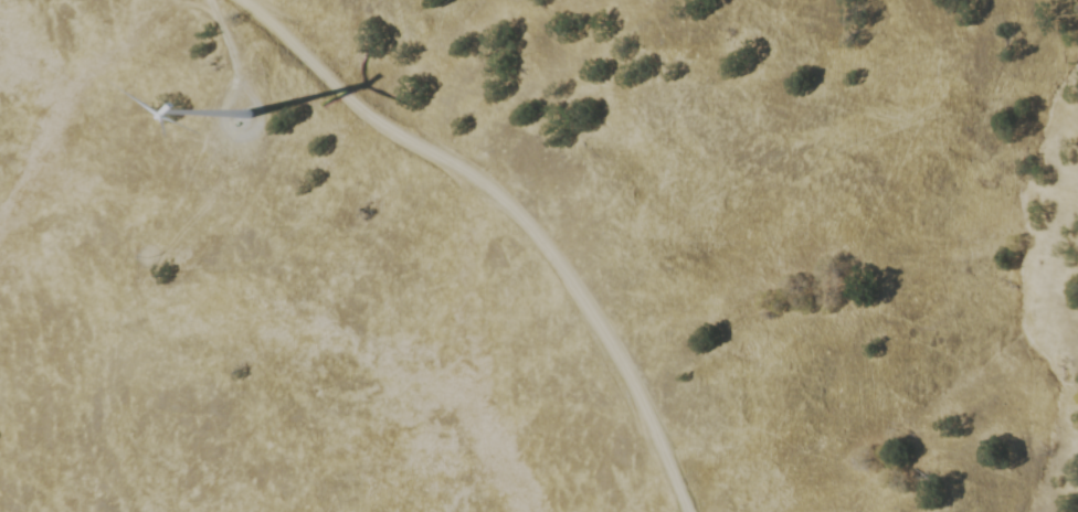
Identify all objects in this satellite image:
wind turbine: (251, 110)
road: (519, 212)

